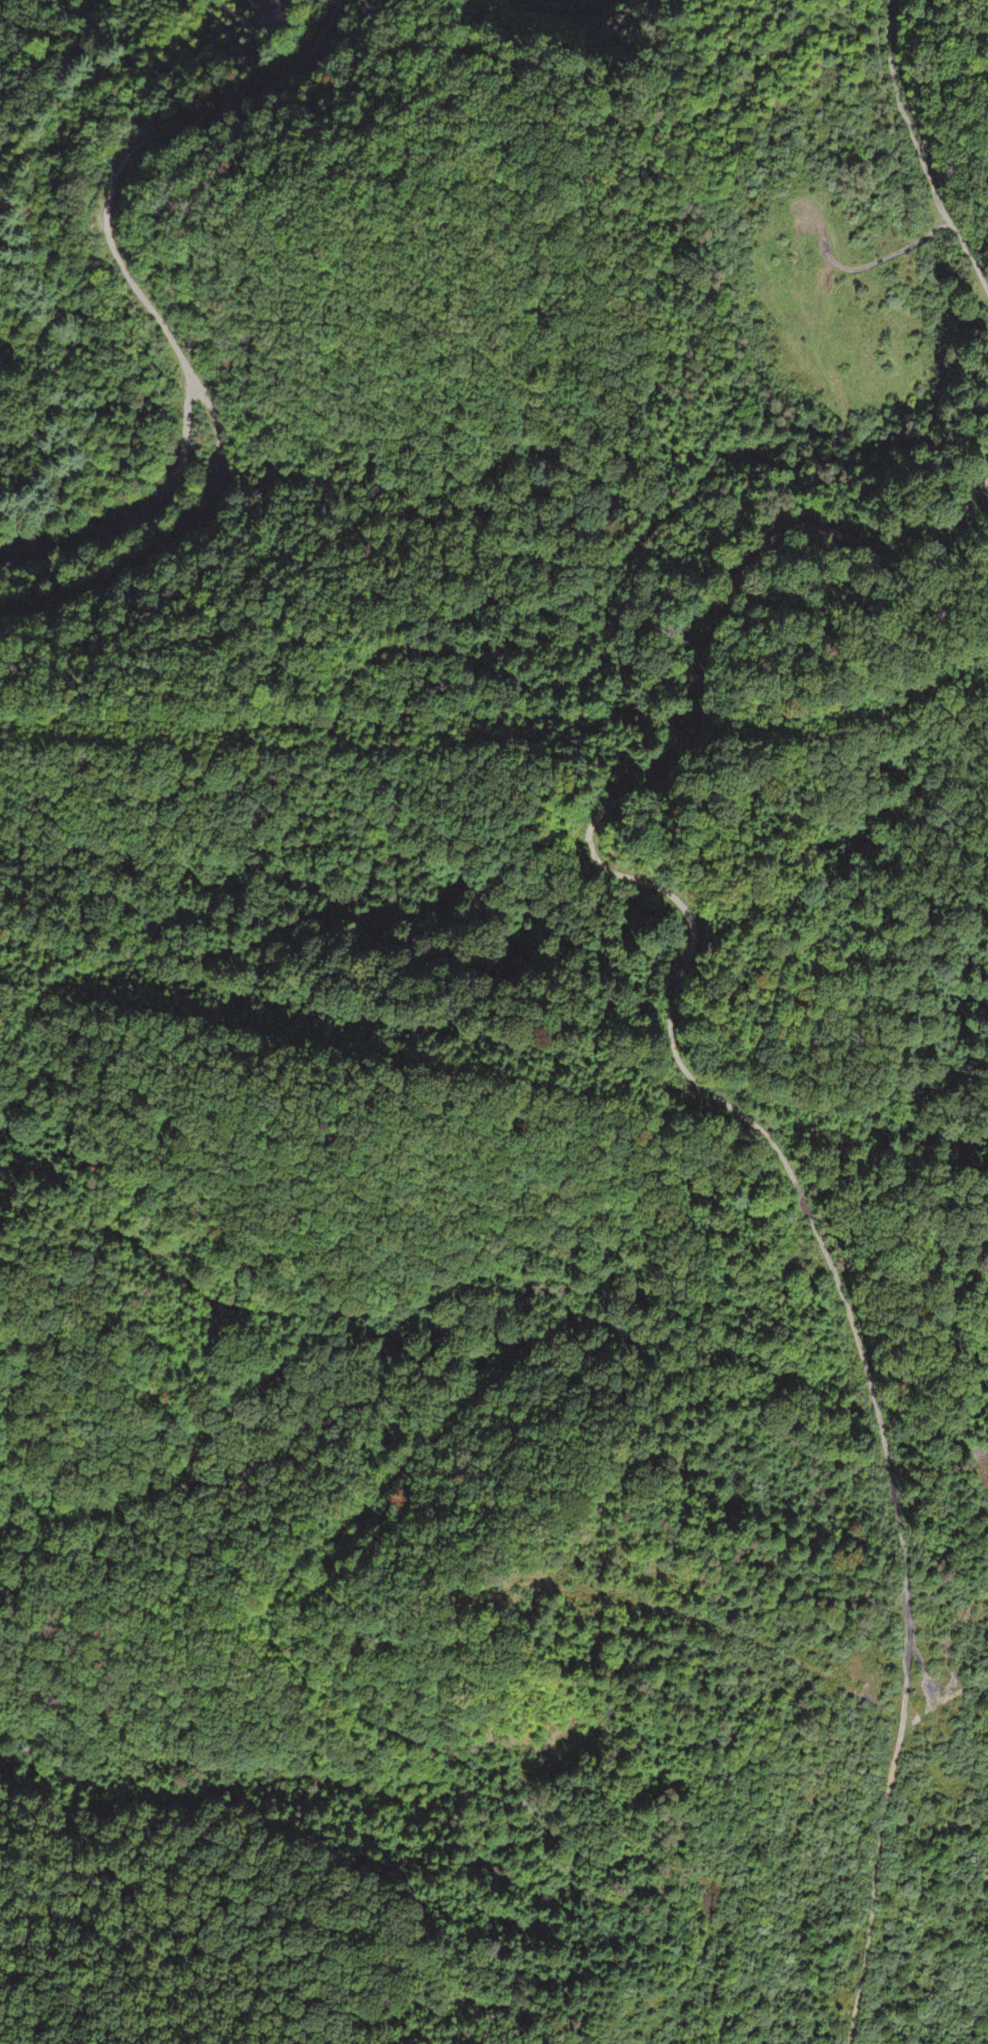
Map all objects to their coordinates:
road: (538, 3)
road: (124, 231)

